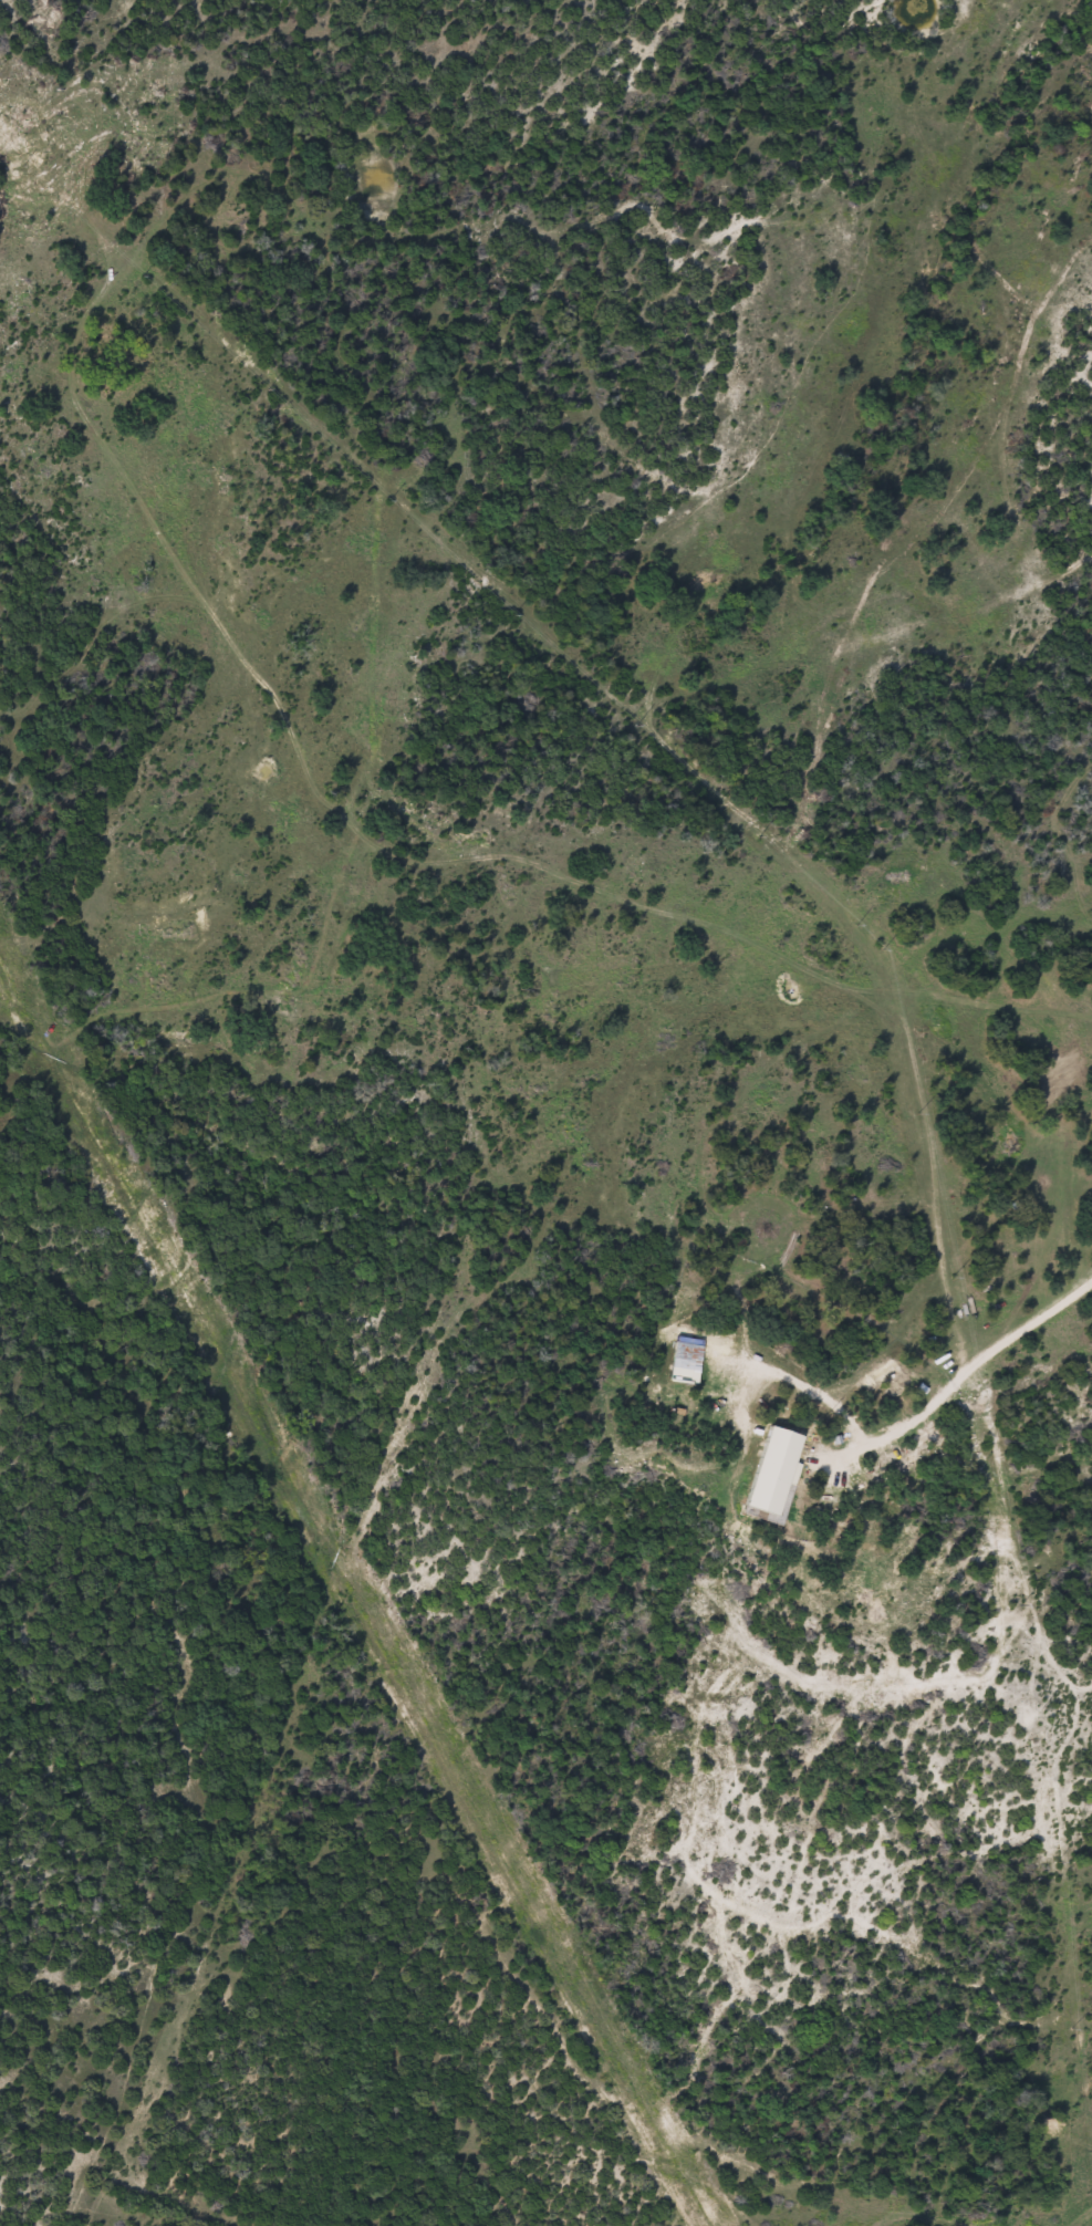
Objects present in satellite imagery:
road: (978, 1355)

